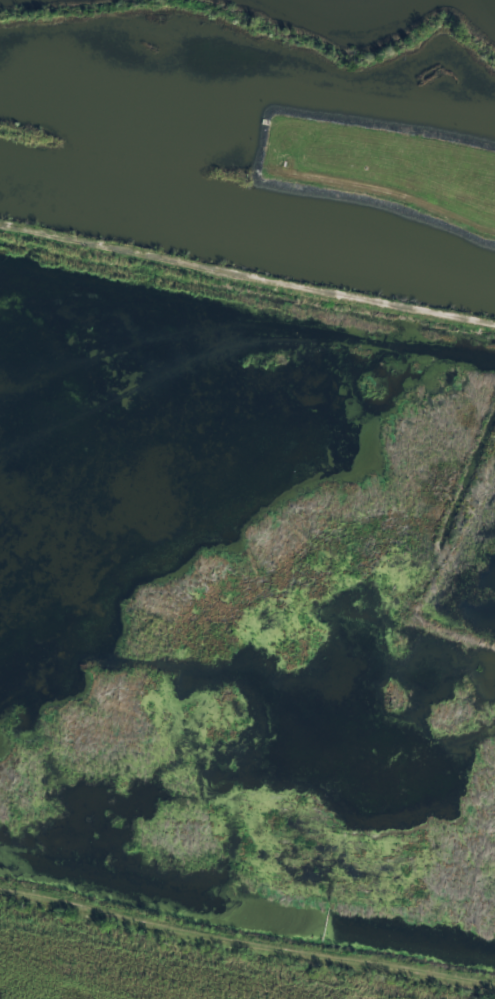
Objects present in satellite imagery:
road: (247, 274)
road: (246, 948)

